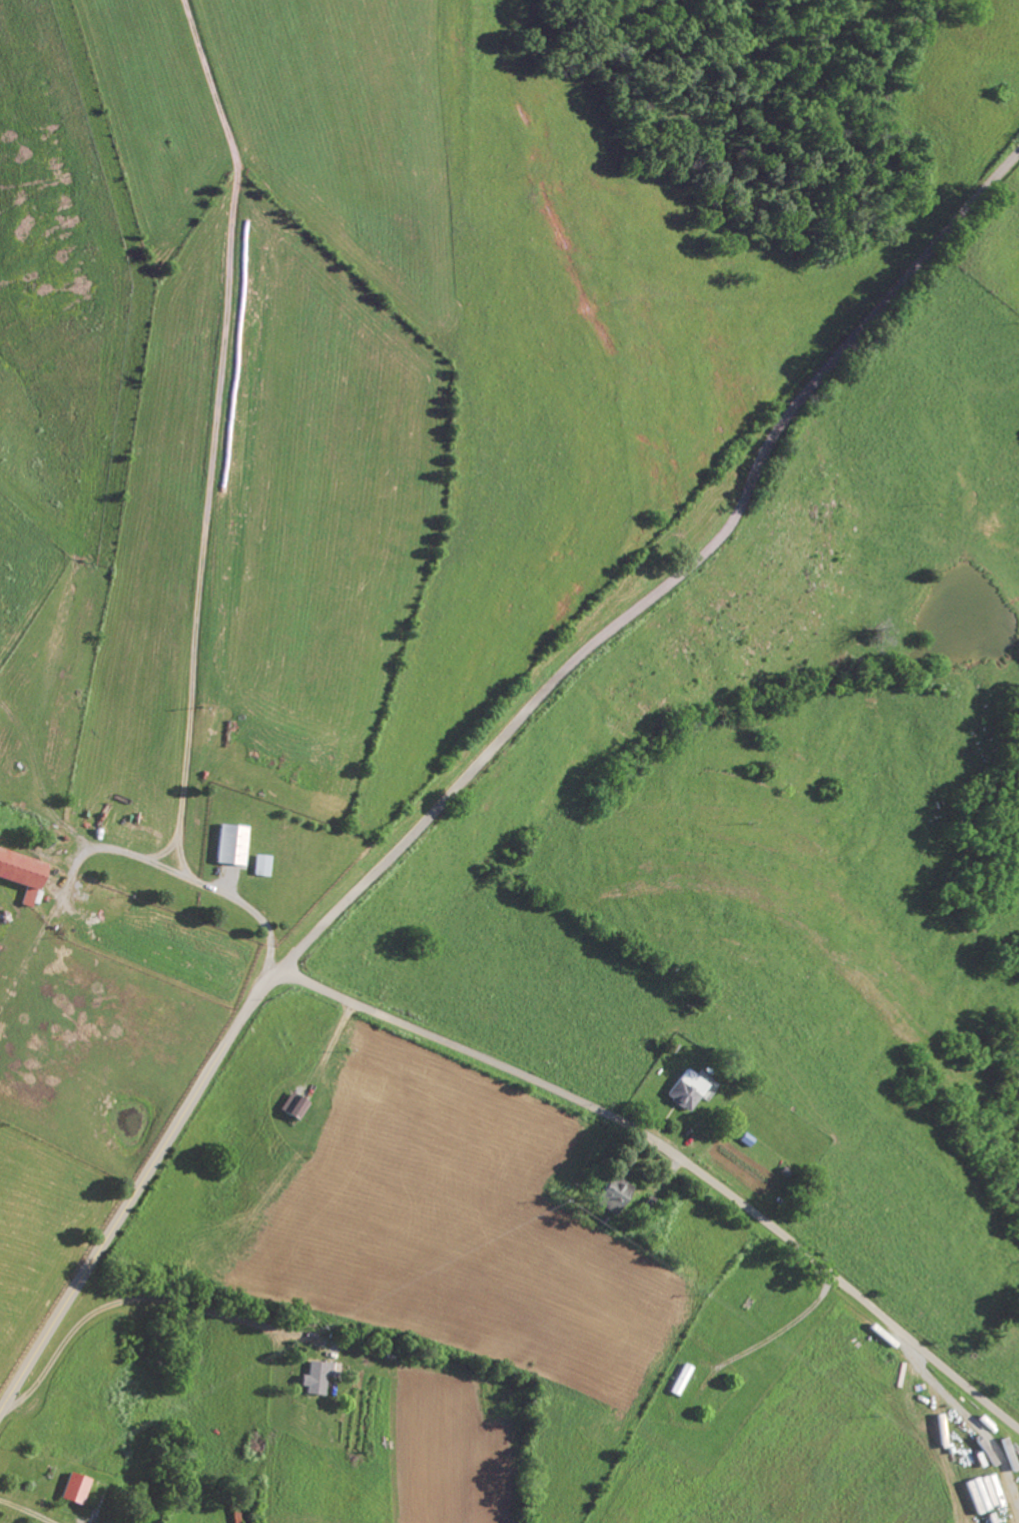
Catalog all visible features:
road: (669, 573)
building: (236, 844)
building: (264, 865)
building: (27, 873)
road: (200, 883)
building: (686, 1091)
building: (298, 1105)
road: (676, 1153)
road: (138, 1186)
building: (617, 1197)
road: (143, 1298)
building: (320, 1377)
building: (79, 1488)
road: (28, 1509)

